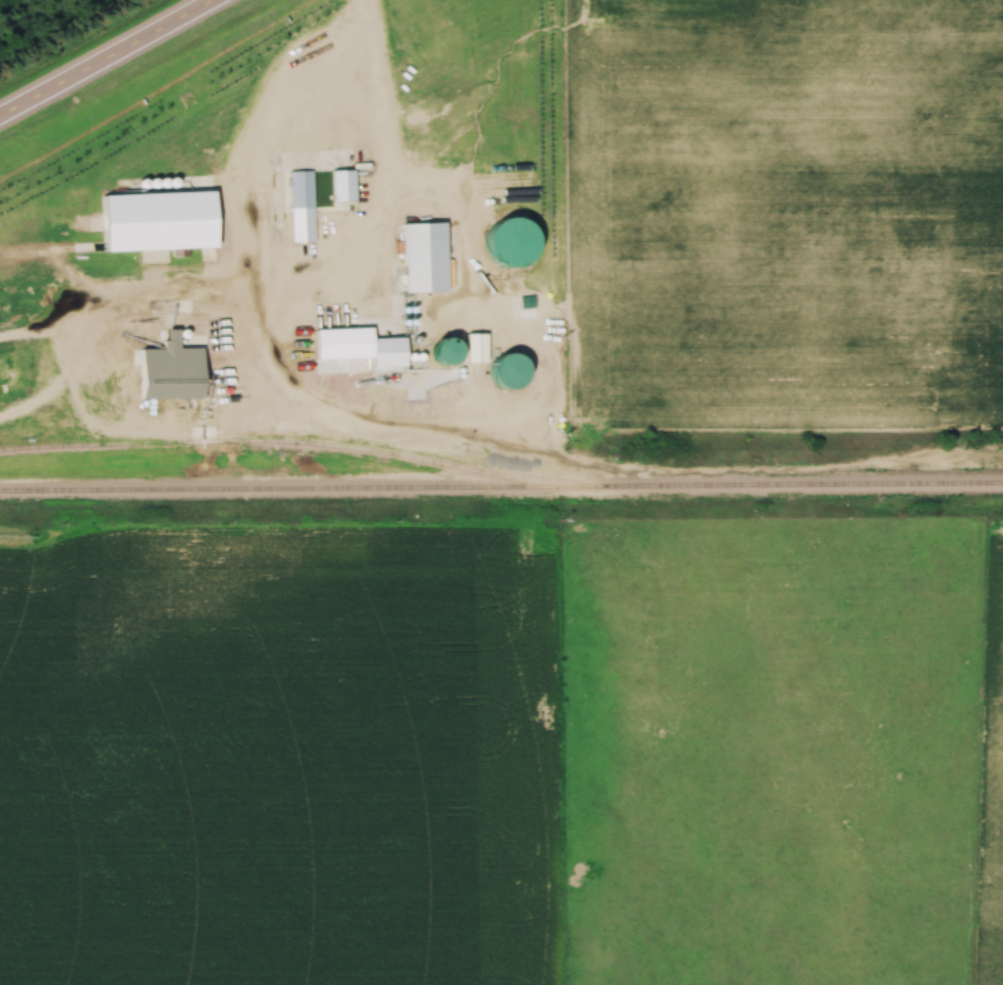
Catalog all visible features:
road: (110, 61)
road: (381, 131)
building: (202, 184)
building: (340, 188)
building: (297, 191)
building: (504, 245)
building: (418, 259)
building: (442, 354)
building: (162, 373)
building: (498, 373)
railway: (274, 441)
railway: (501, 489)

